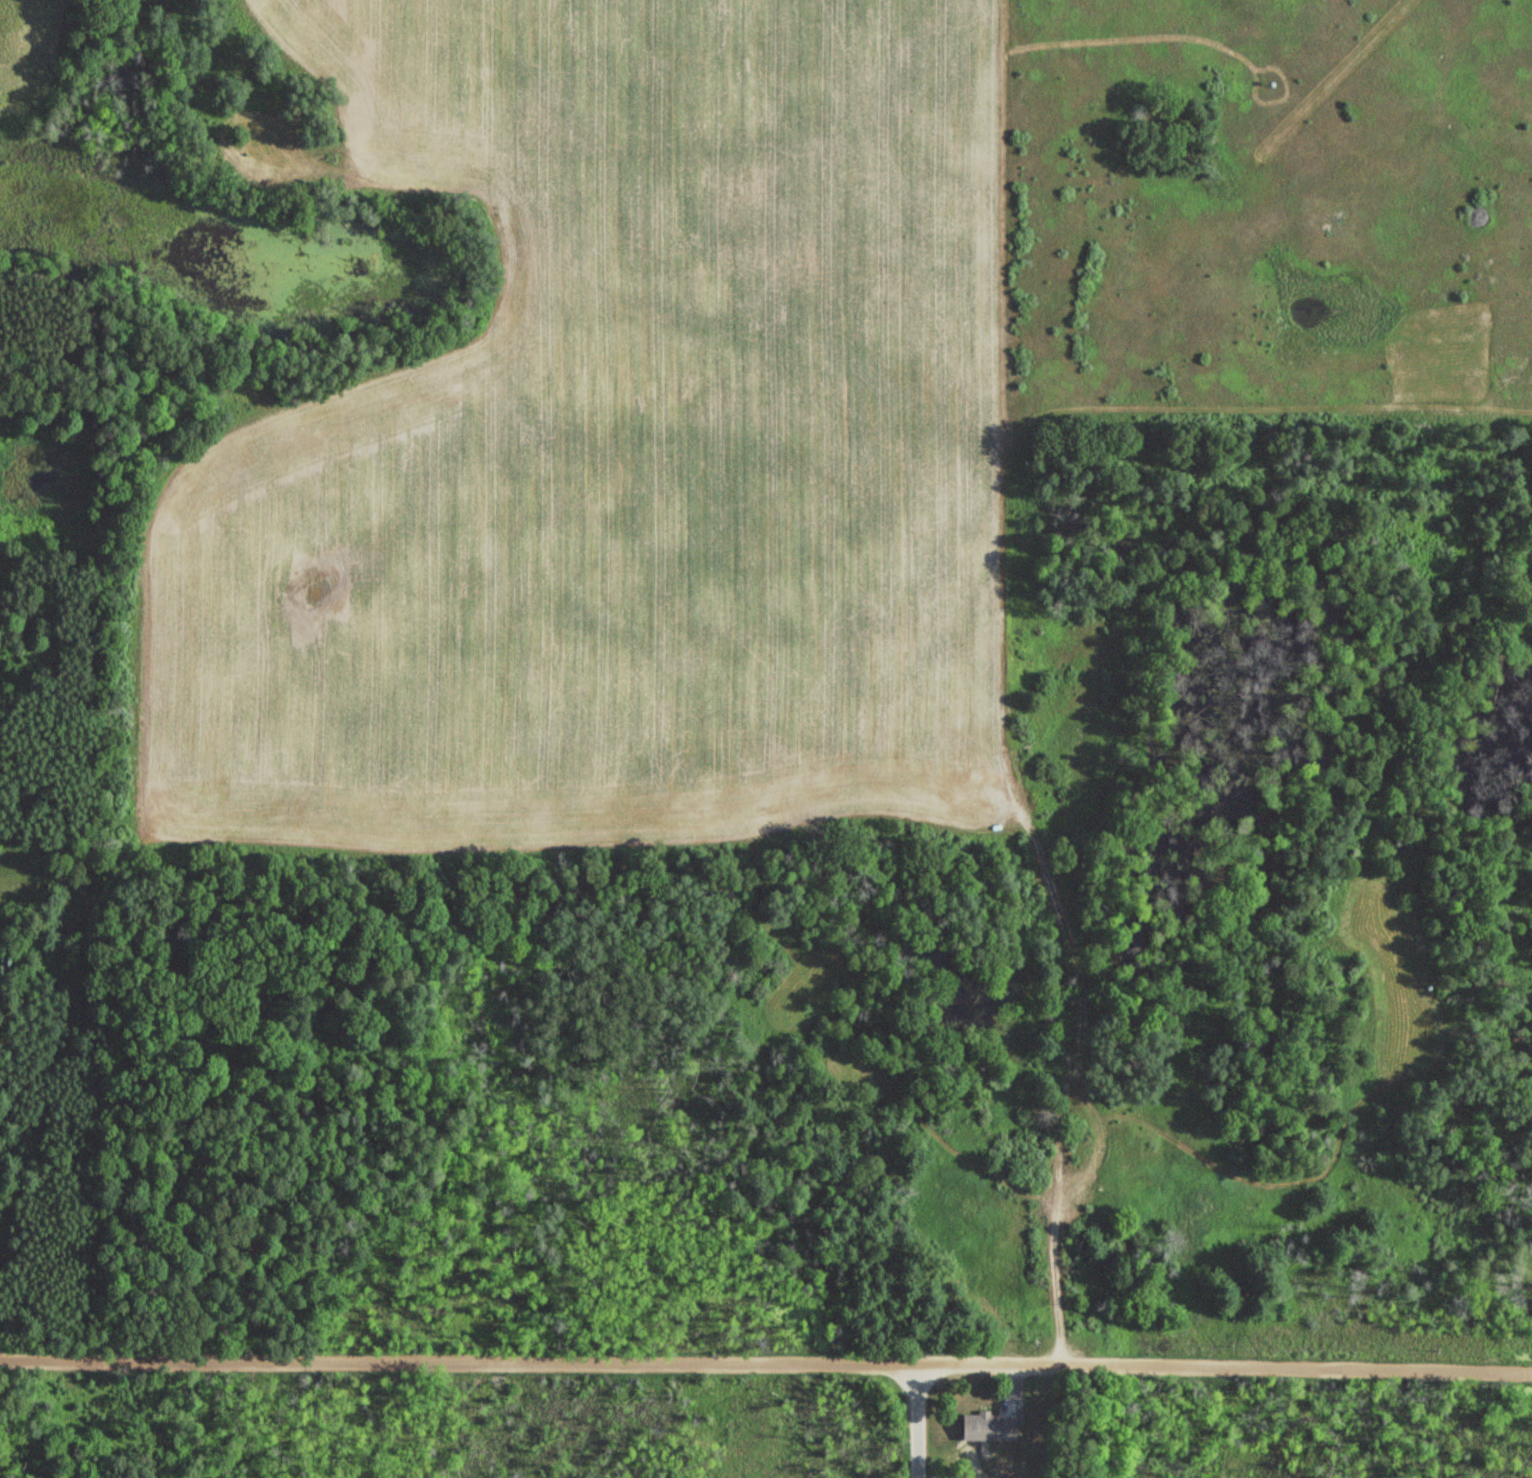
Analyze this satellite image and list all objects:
road: (766, 1365)
road: (918, 1422)
building: (983, 1427)

